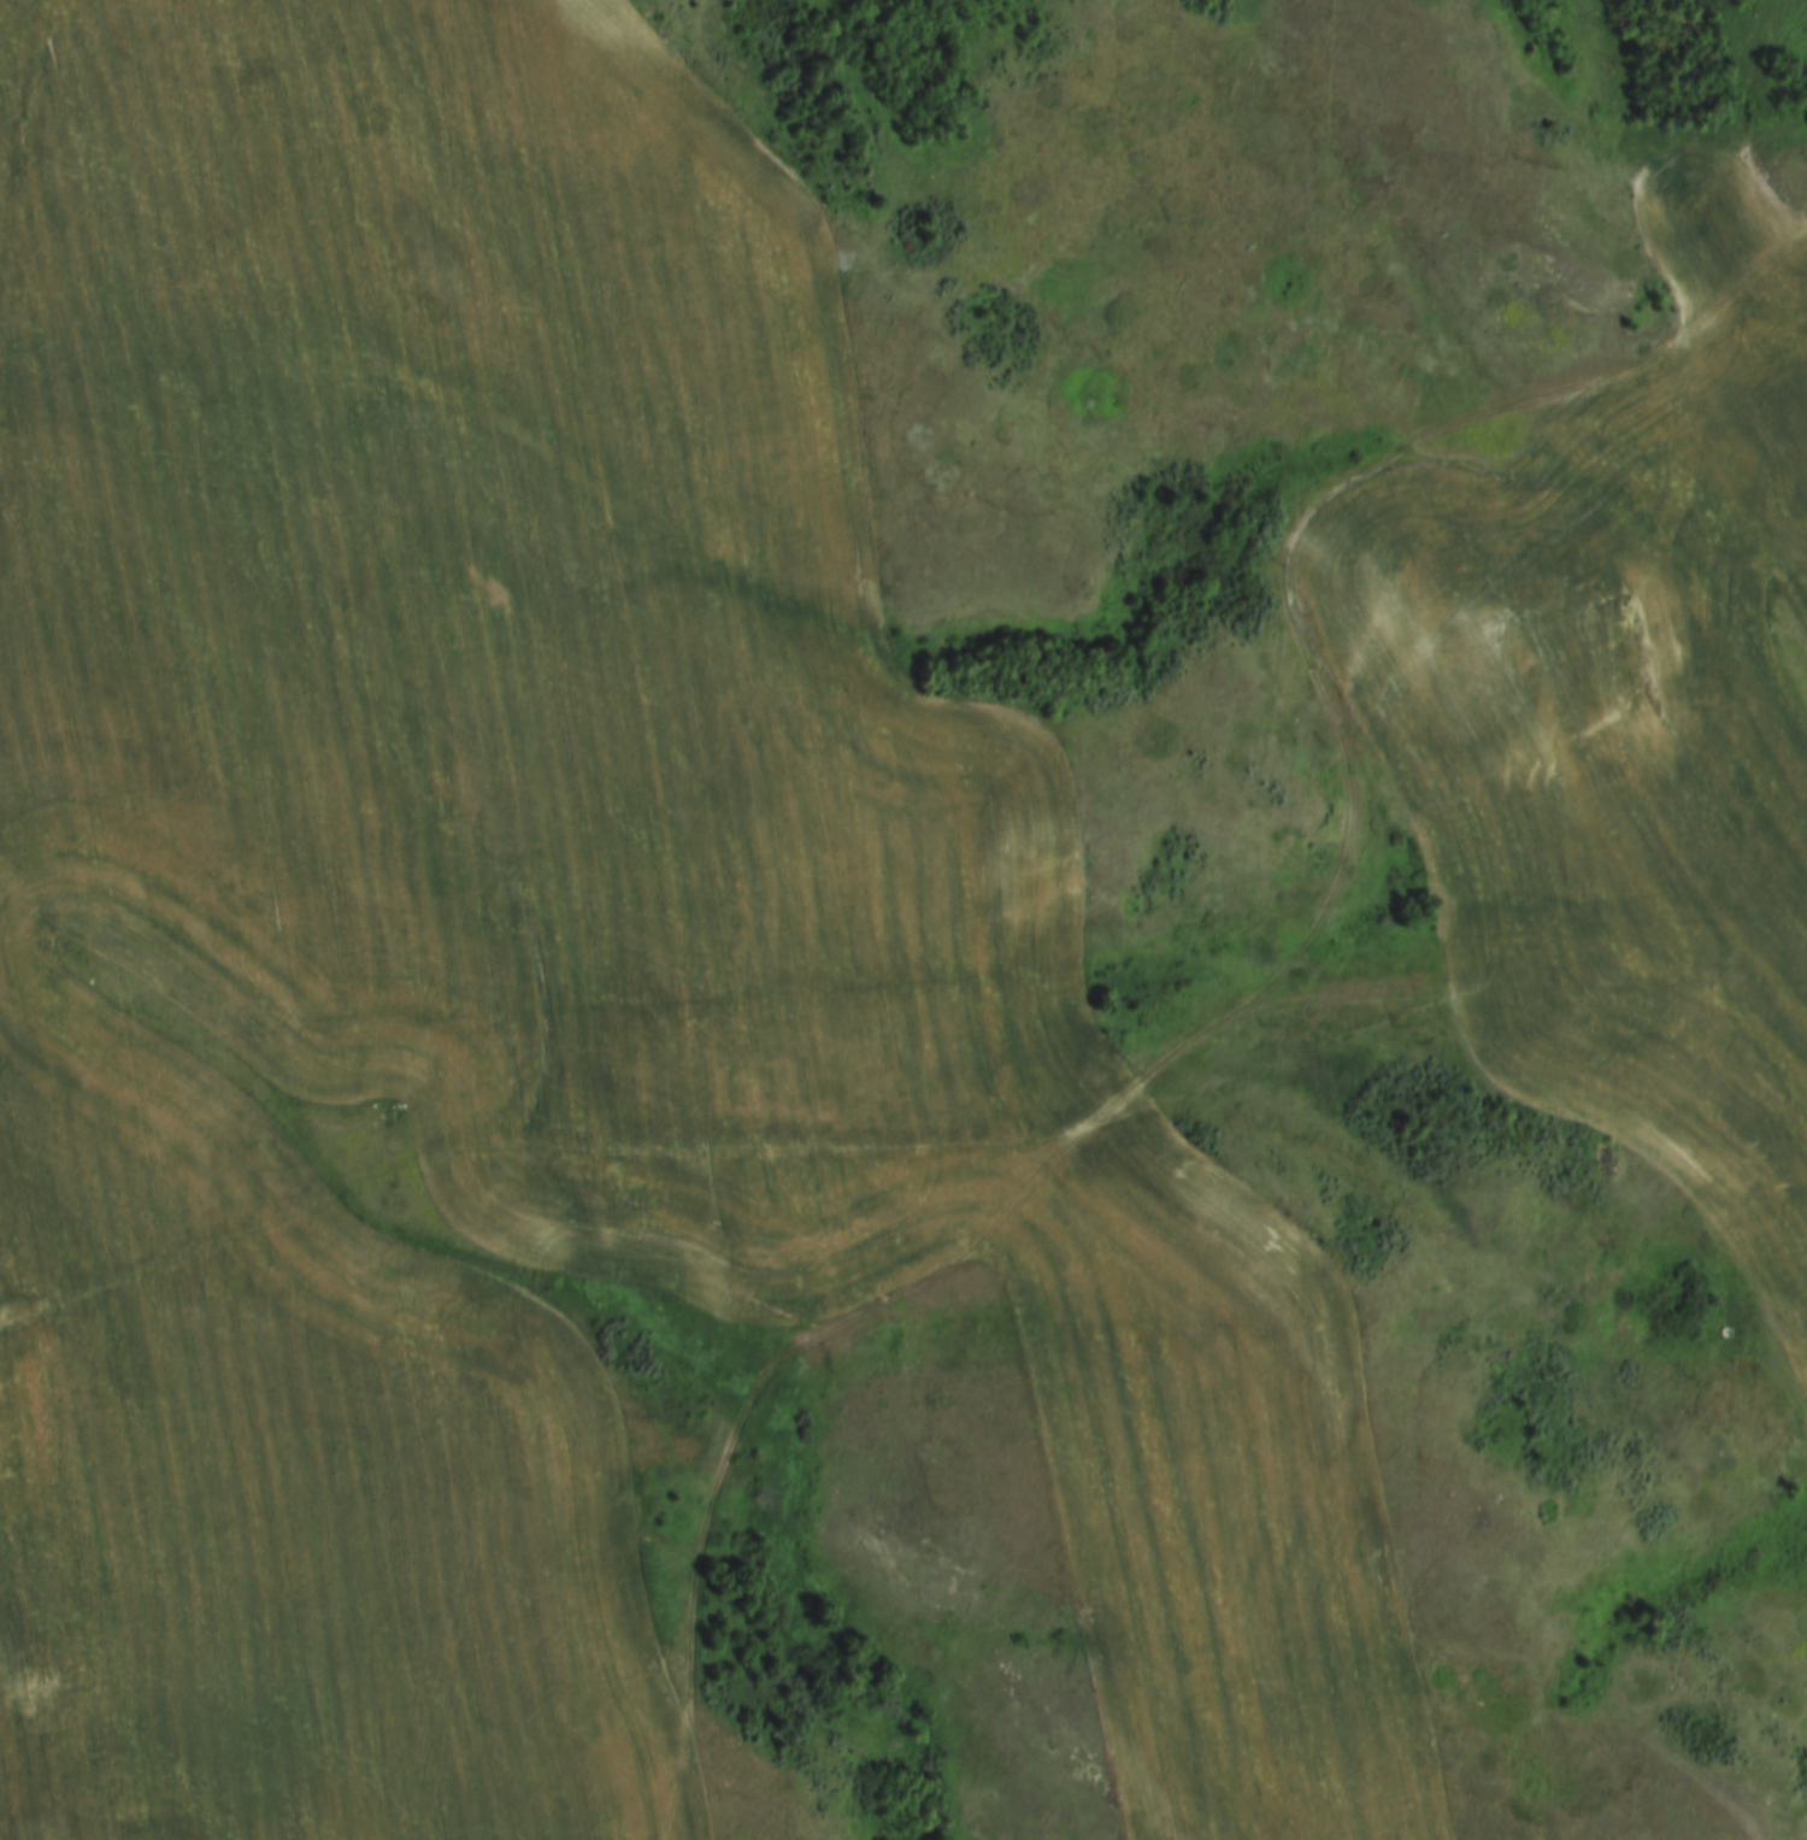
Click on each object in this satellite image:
road: (1264, 993)

